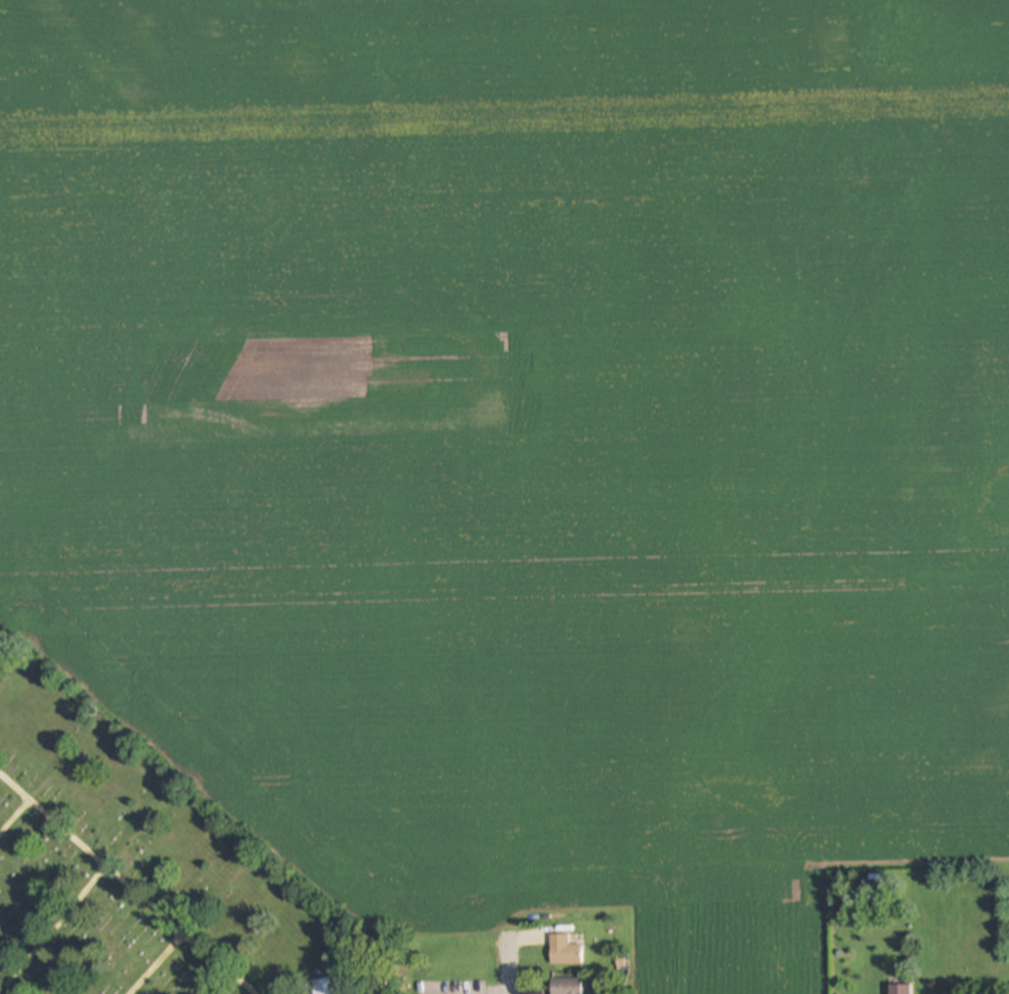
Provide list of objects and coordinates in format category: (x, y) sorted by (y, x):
park: (126, 865)
building: (564, 950)
road: (506, 967)
building: (323, 986)
building: (566, 986)

